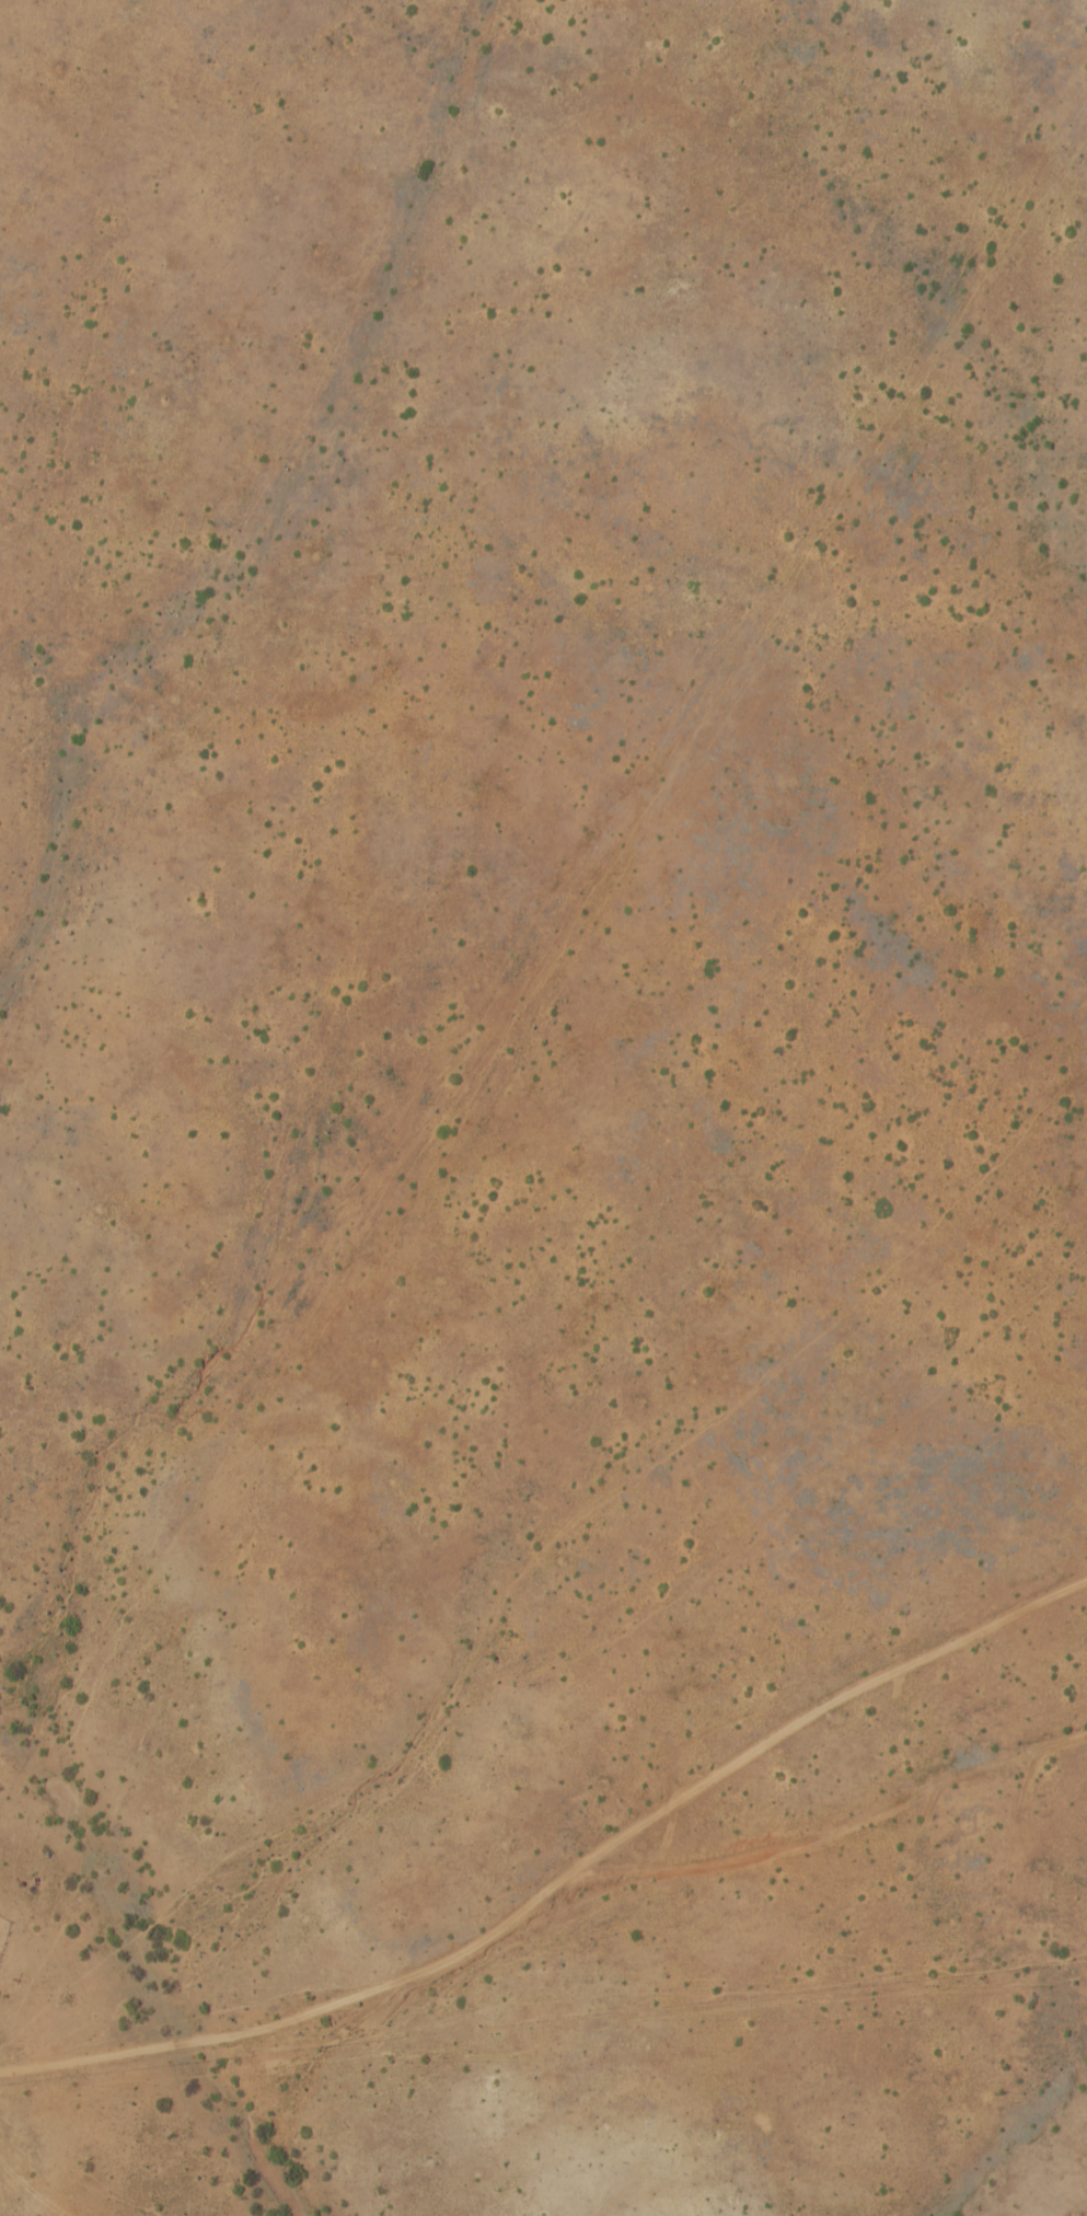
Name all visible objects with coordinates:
road: (31, 2179)

